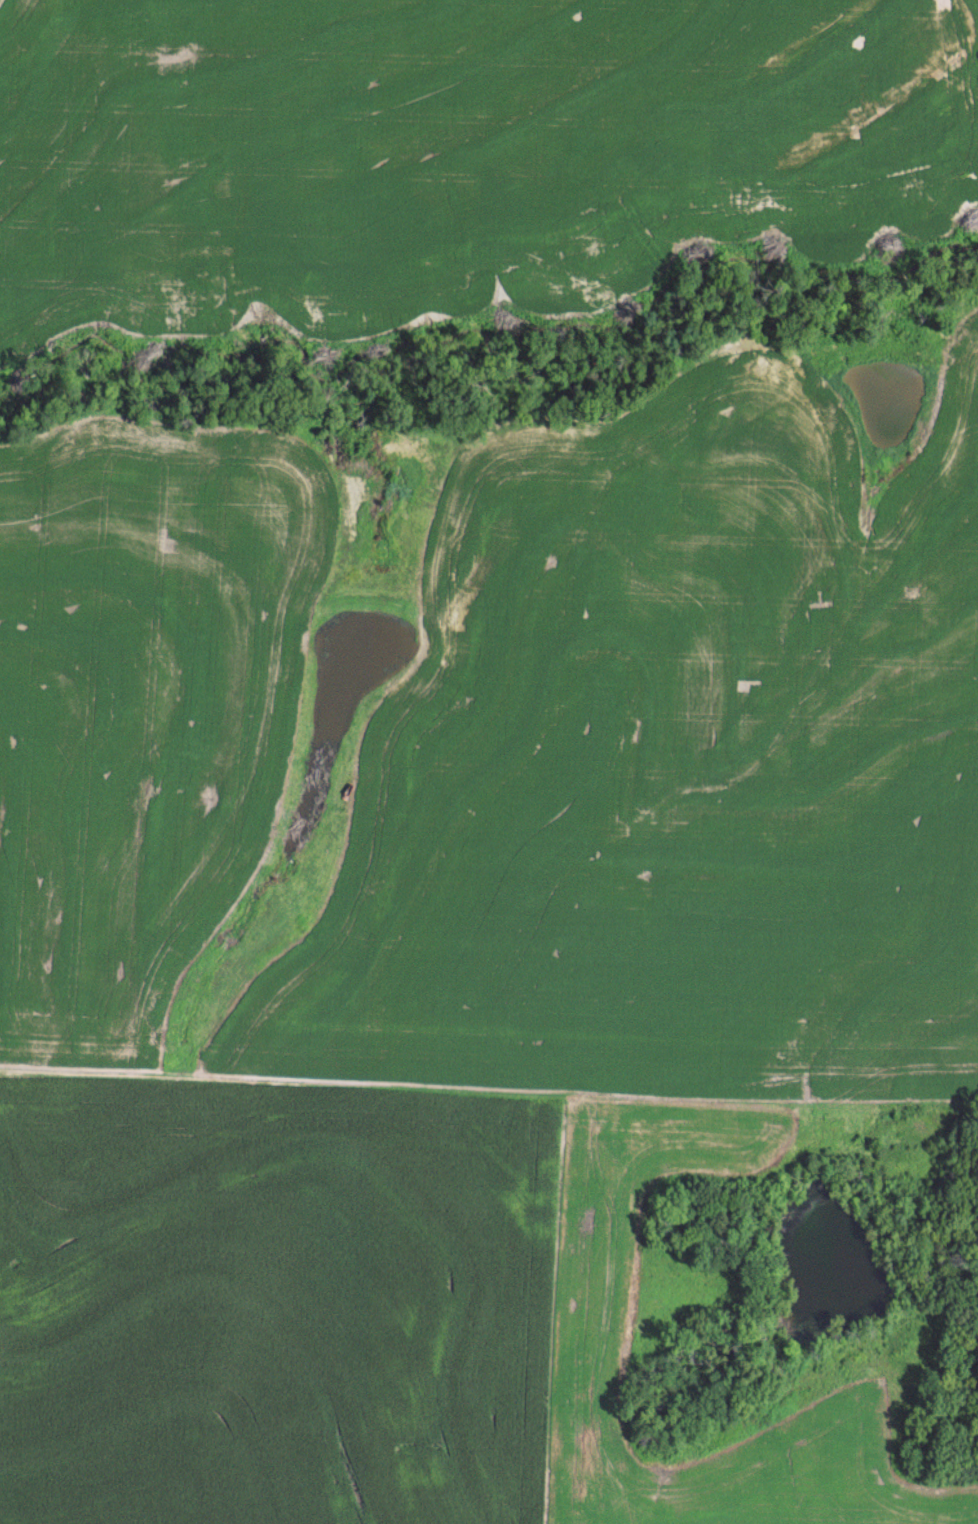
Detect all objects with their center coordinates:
road: (488, 1079)

